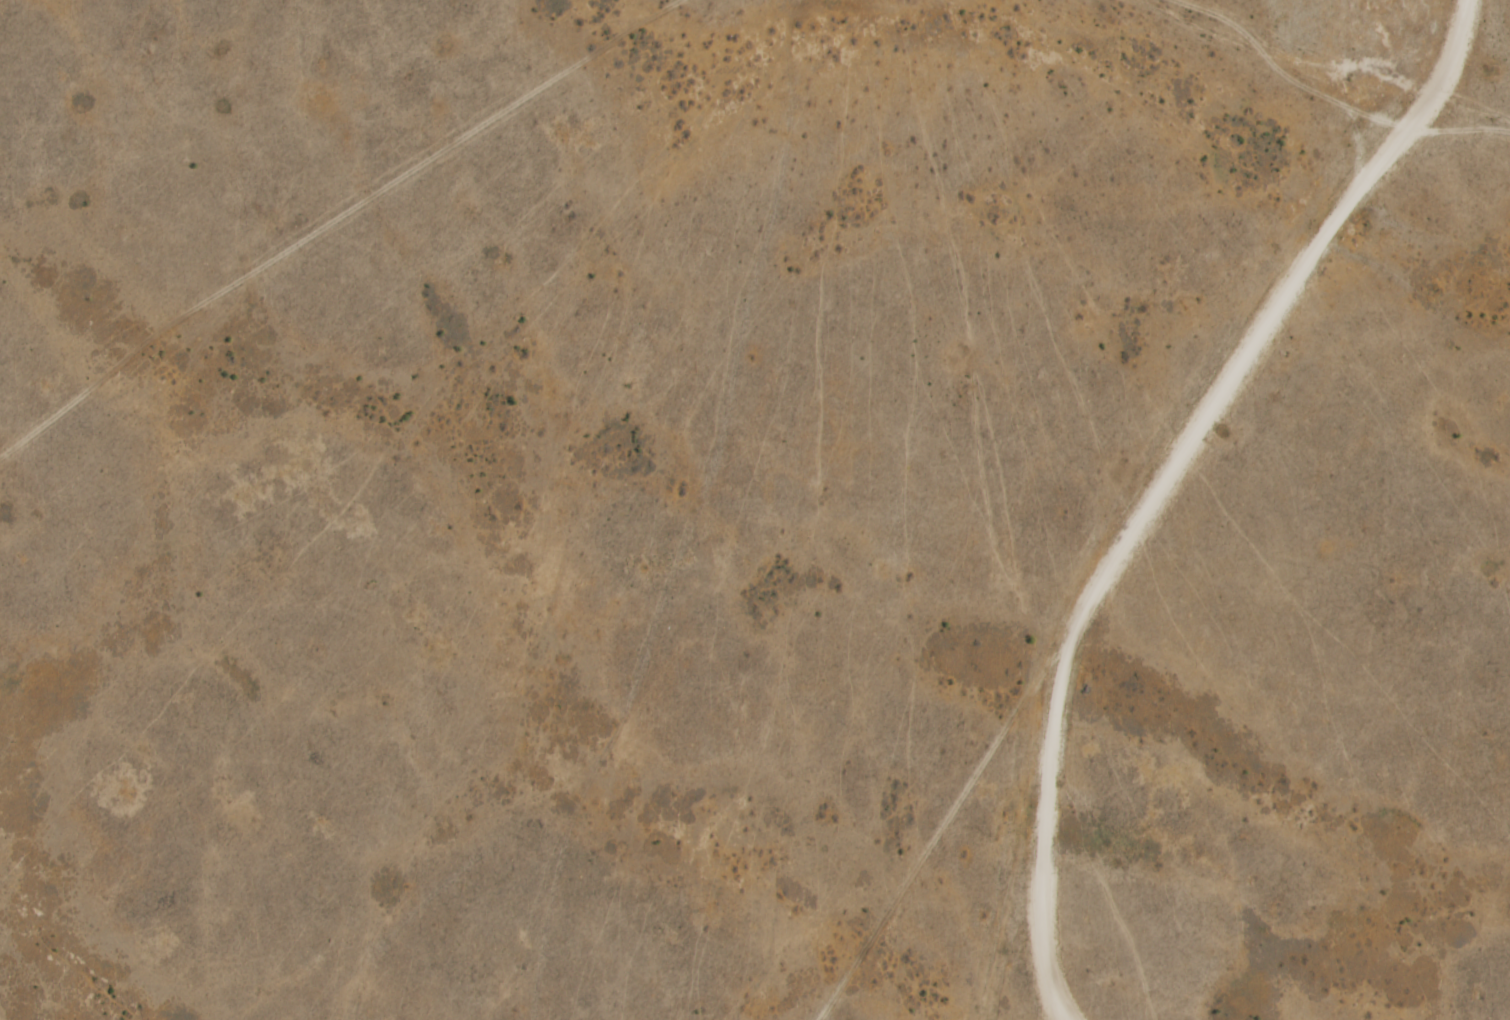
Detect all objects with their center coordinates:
road: (1189, 484)

